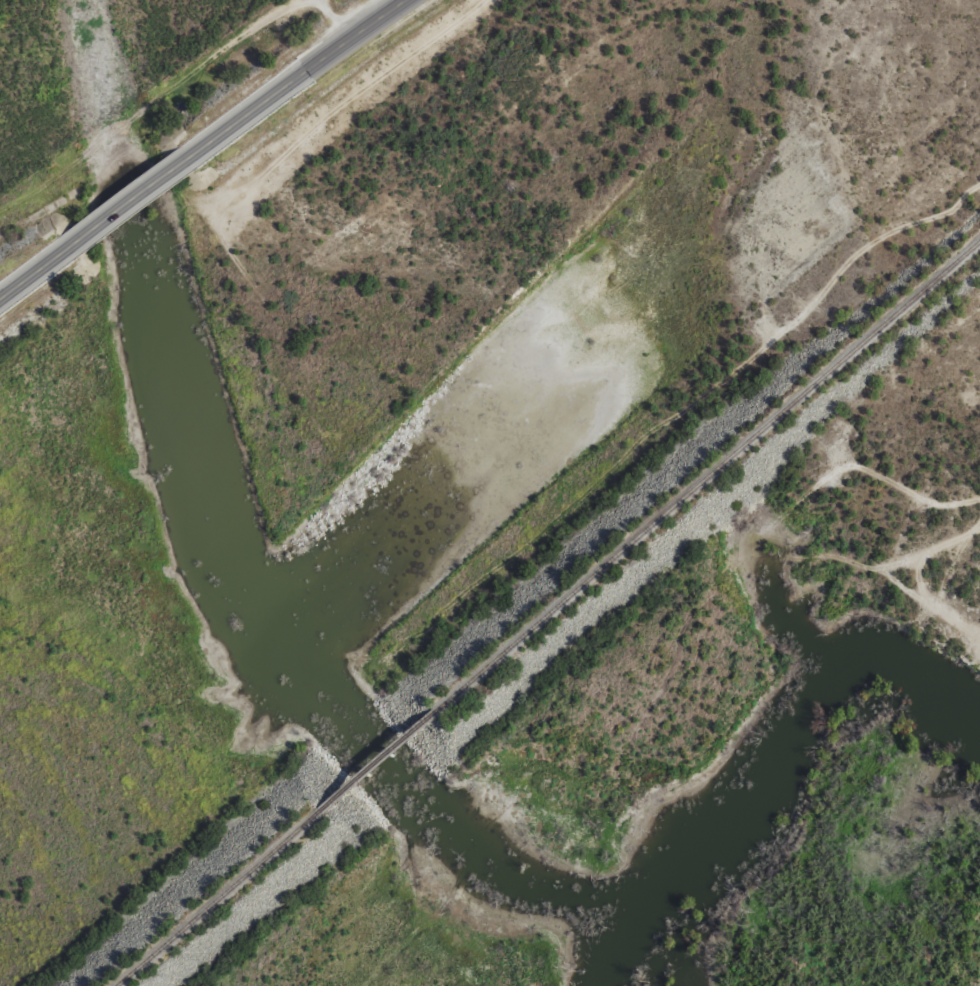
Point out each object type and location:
road: (312, 86)
road: (126, 219)
road: (31, 288)
railway: (708, 472)
railway: (377, 762)
river: (781, 774)
railway: (216, 899)

